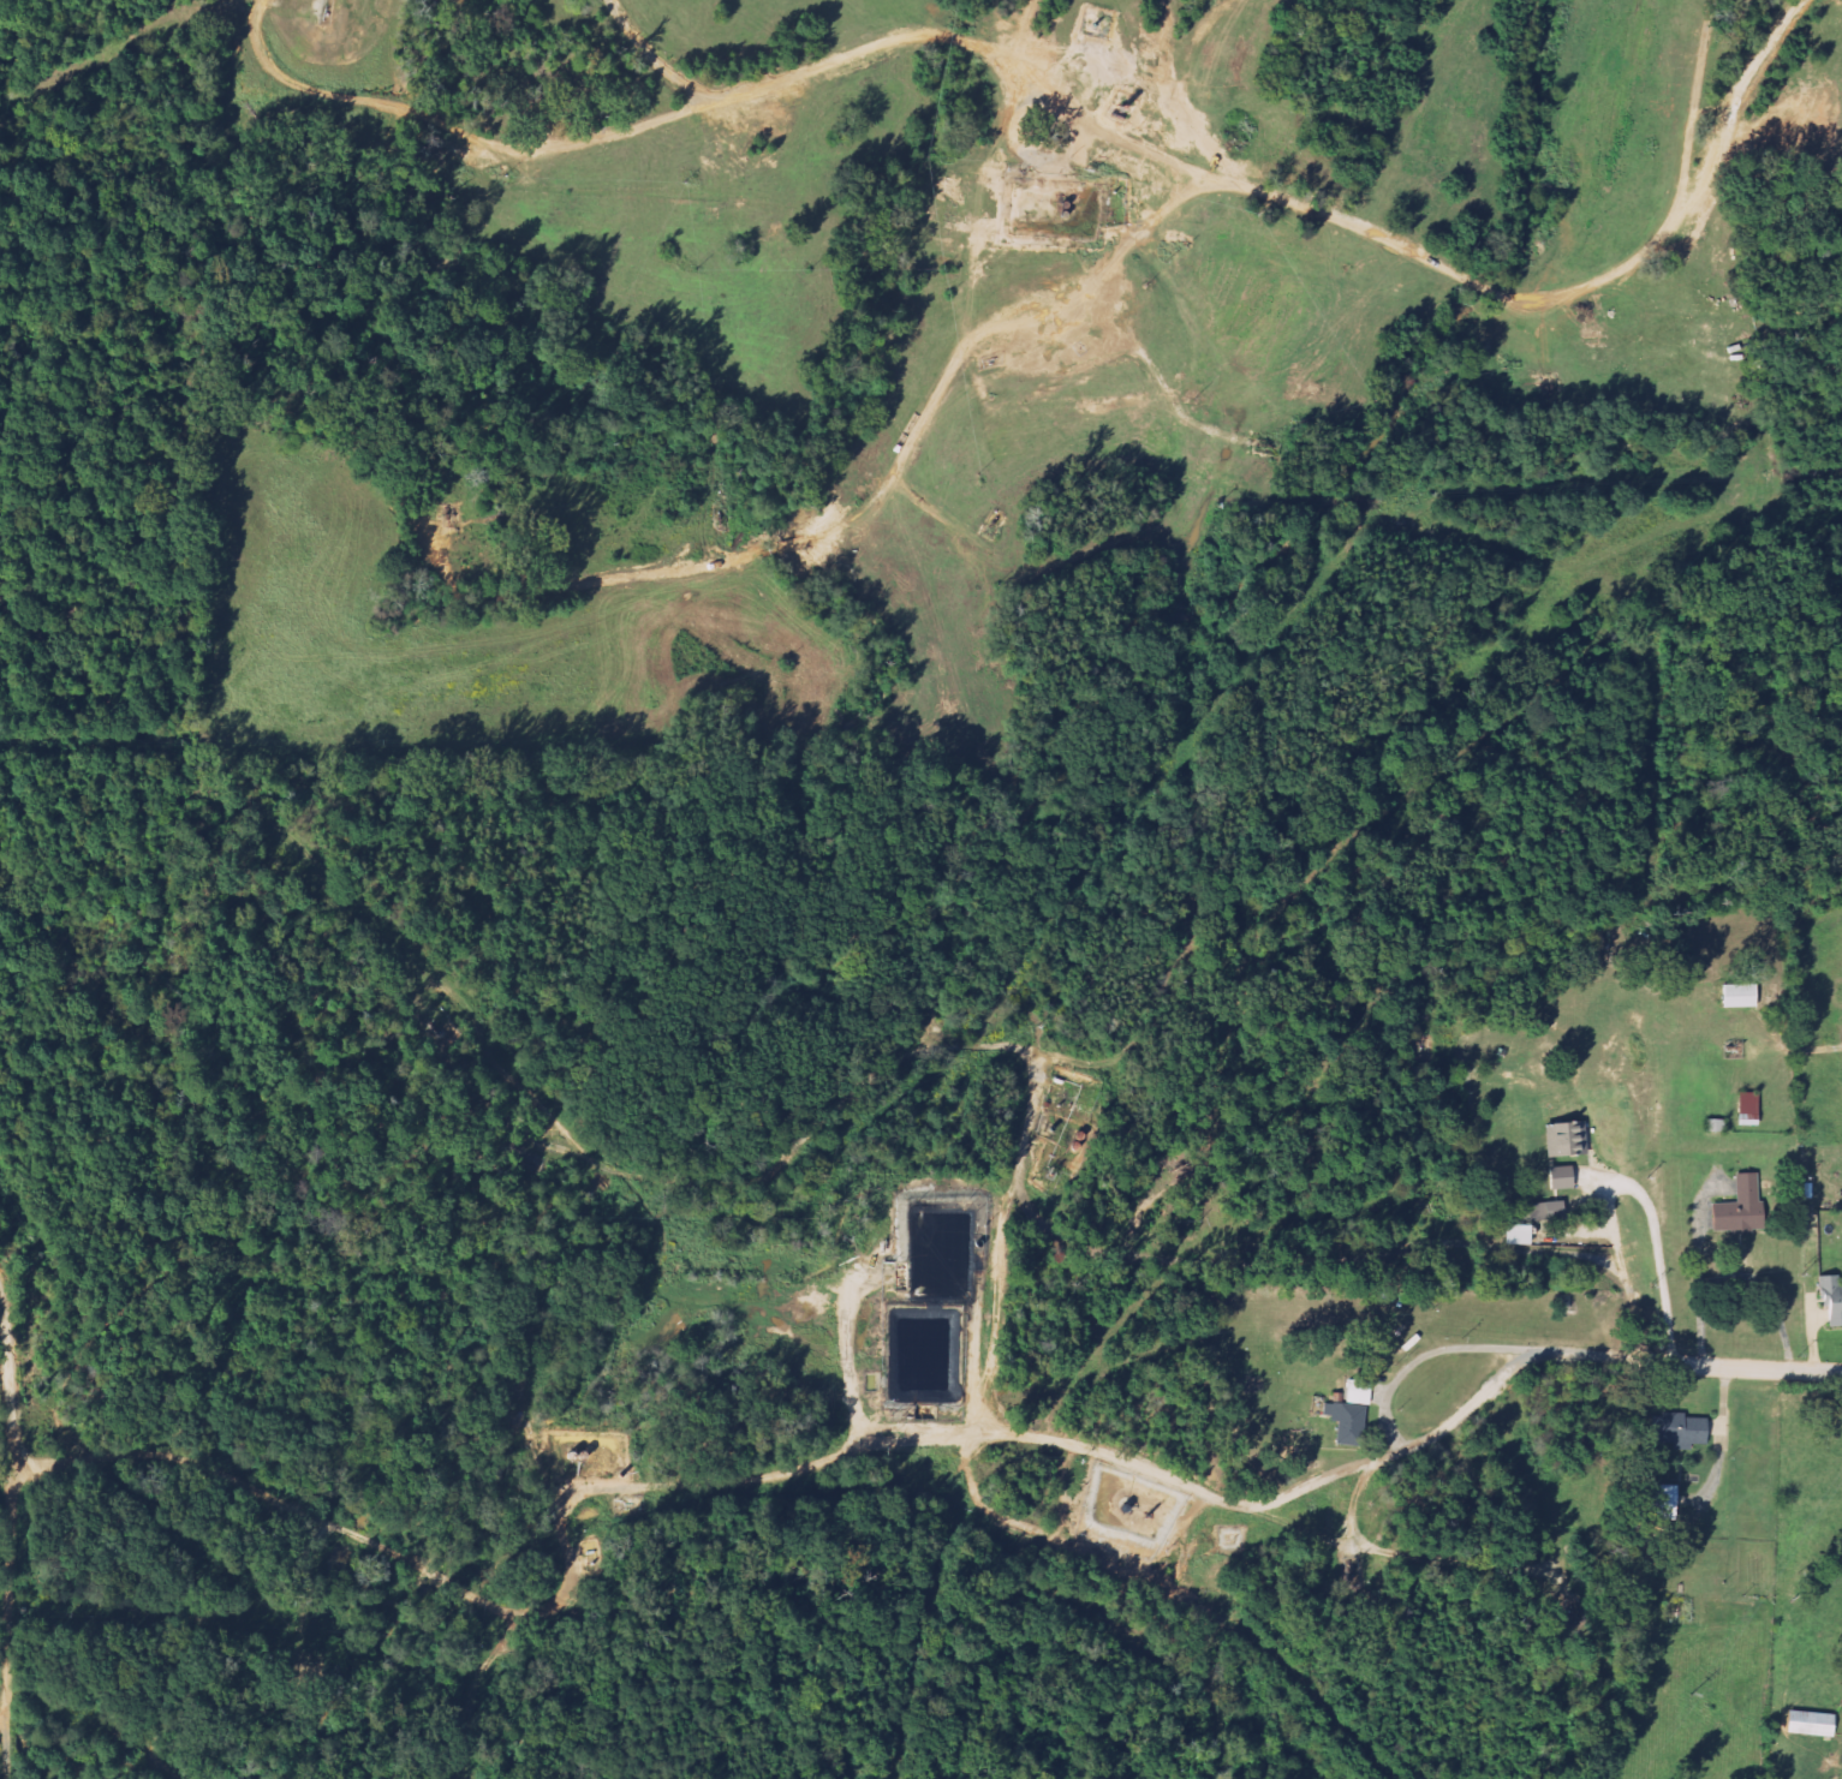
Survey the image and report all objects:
road: (657, 61)
road: (733, 91)
road: (1694, 107)
road: (1586, 286)
road: (1160, 377)
road: (876, 497)
building: (1736, 996)
building: (1747, 1106)
building: (1563, 1139)
road: (779, 1171)
building: (1558, 1178)
building: (1737, 1207)
building: (1545, 1211)
building: (1515, 1235)
road: (1001, 1242)
building: (1830, 1302)
road: (1635, 1313)
building: (1349, 1415)
building: (1680, 1431)
road: (916, 1440)
road: (1411, 1449)
road: (542, 1468)
building: (1662, 1500)
road: (1026, 1527)
road: (13, 1529)
road: (476, 1595)
road: (2, 1717)
building: (1807, 1724)

